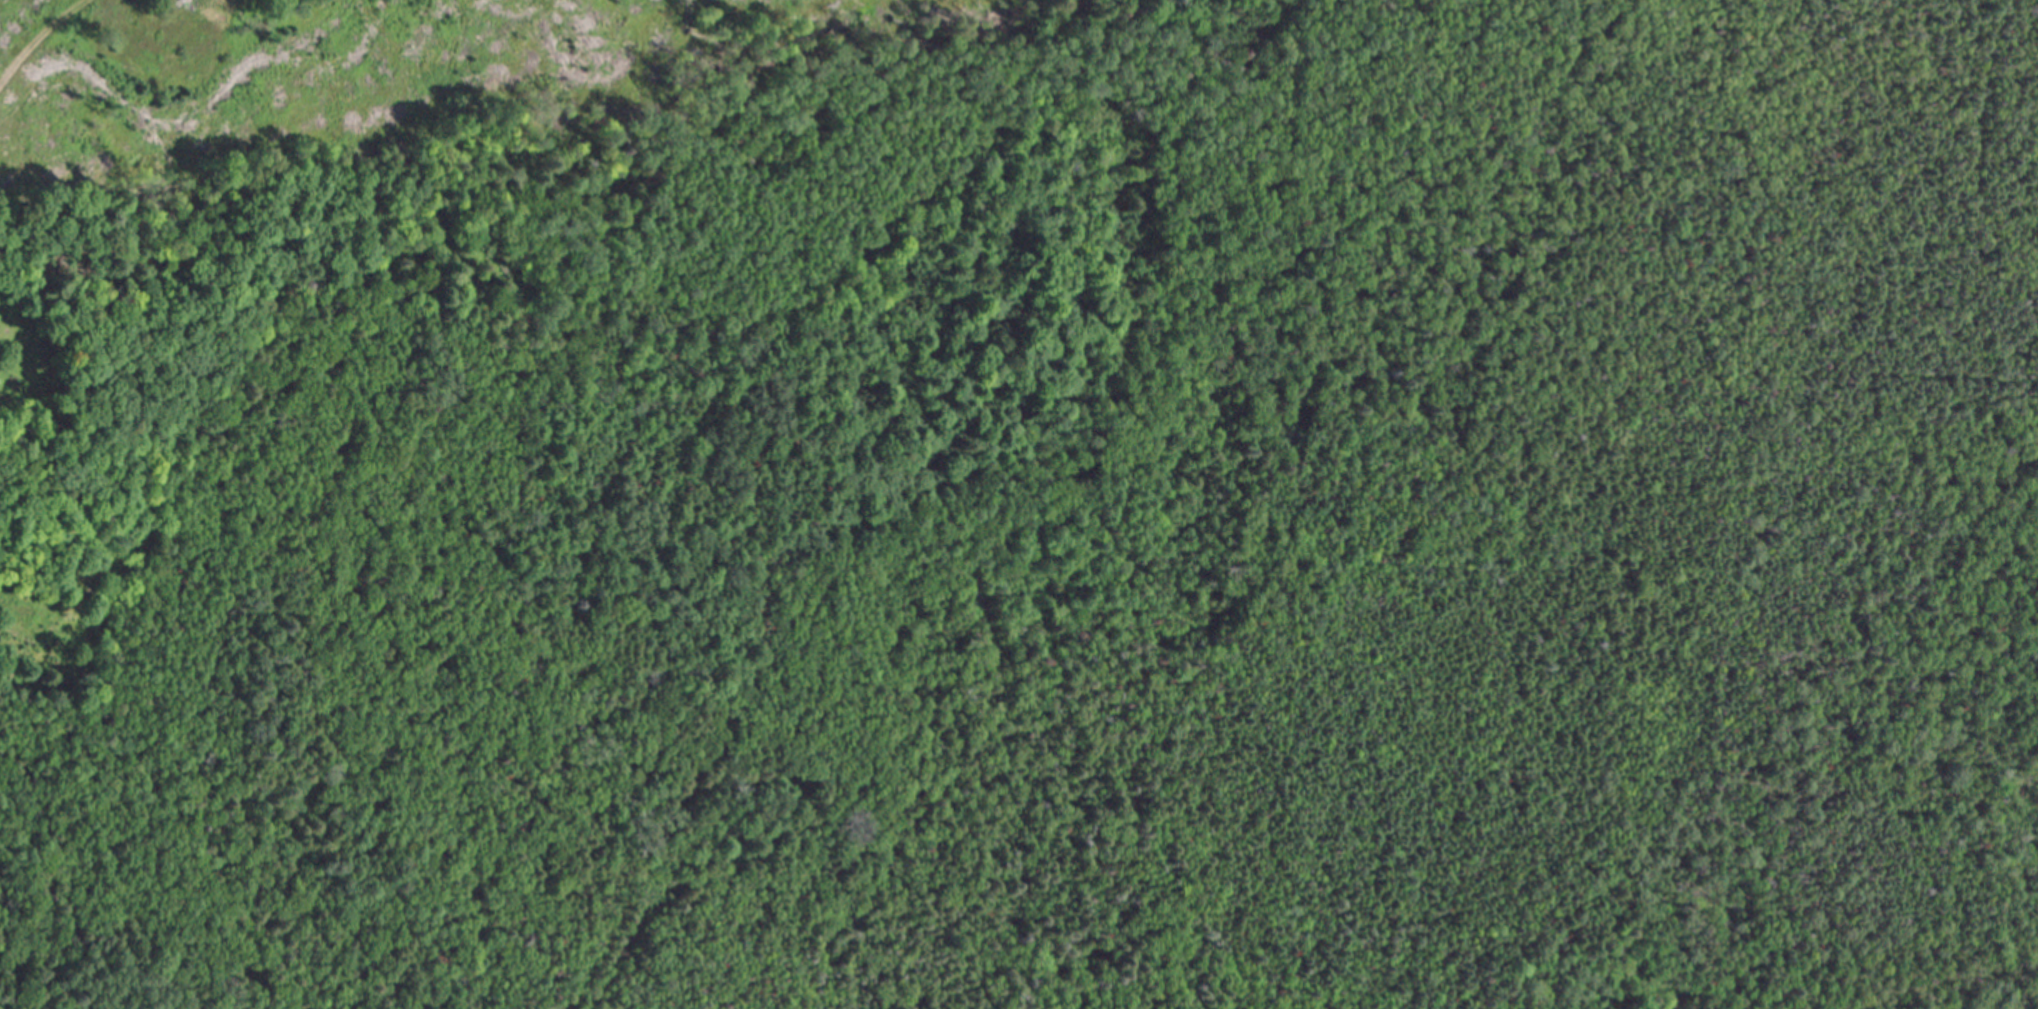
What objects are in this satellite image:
building: (184, 4)

